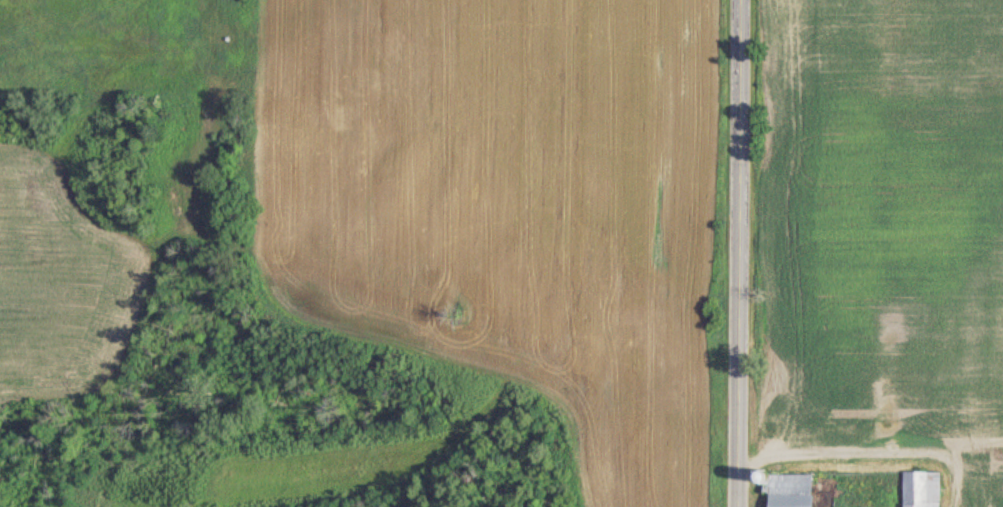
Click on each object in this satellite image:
road: (746, 253)
building: (921, 489)

